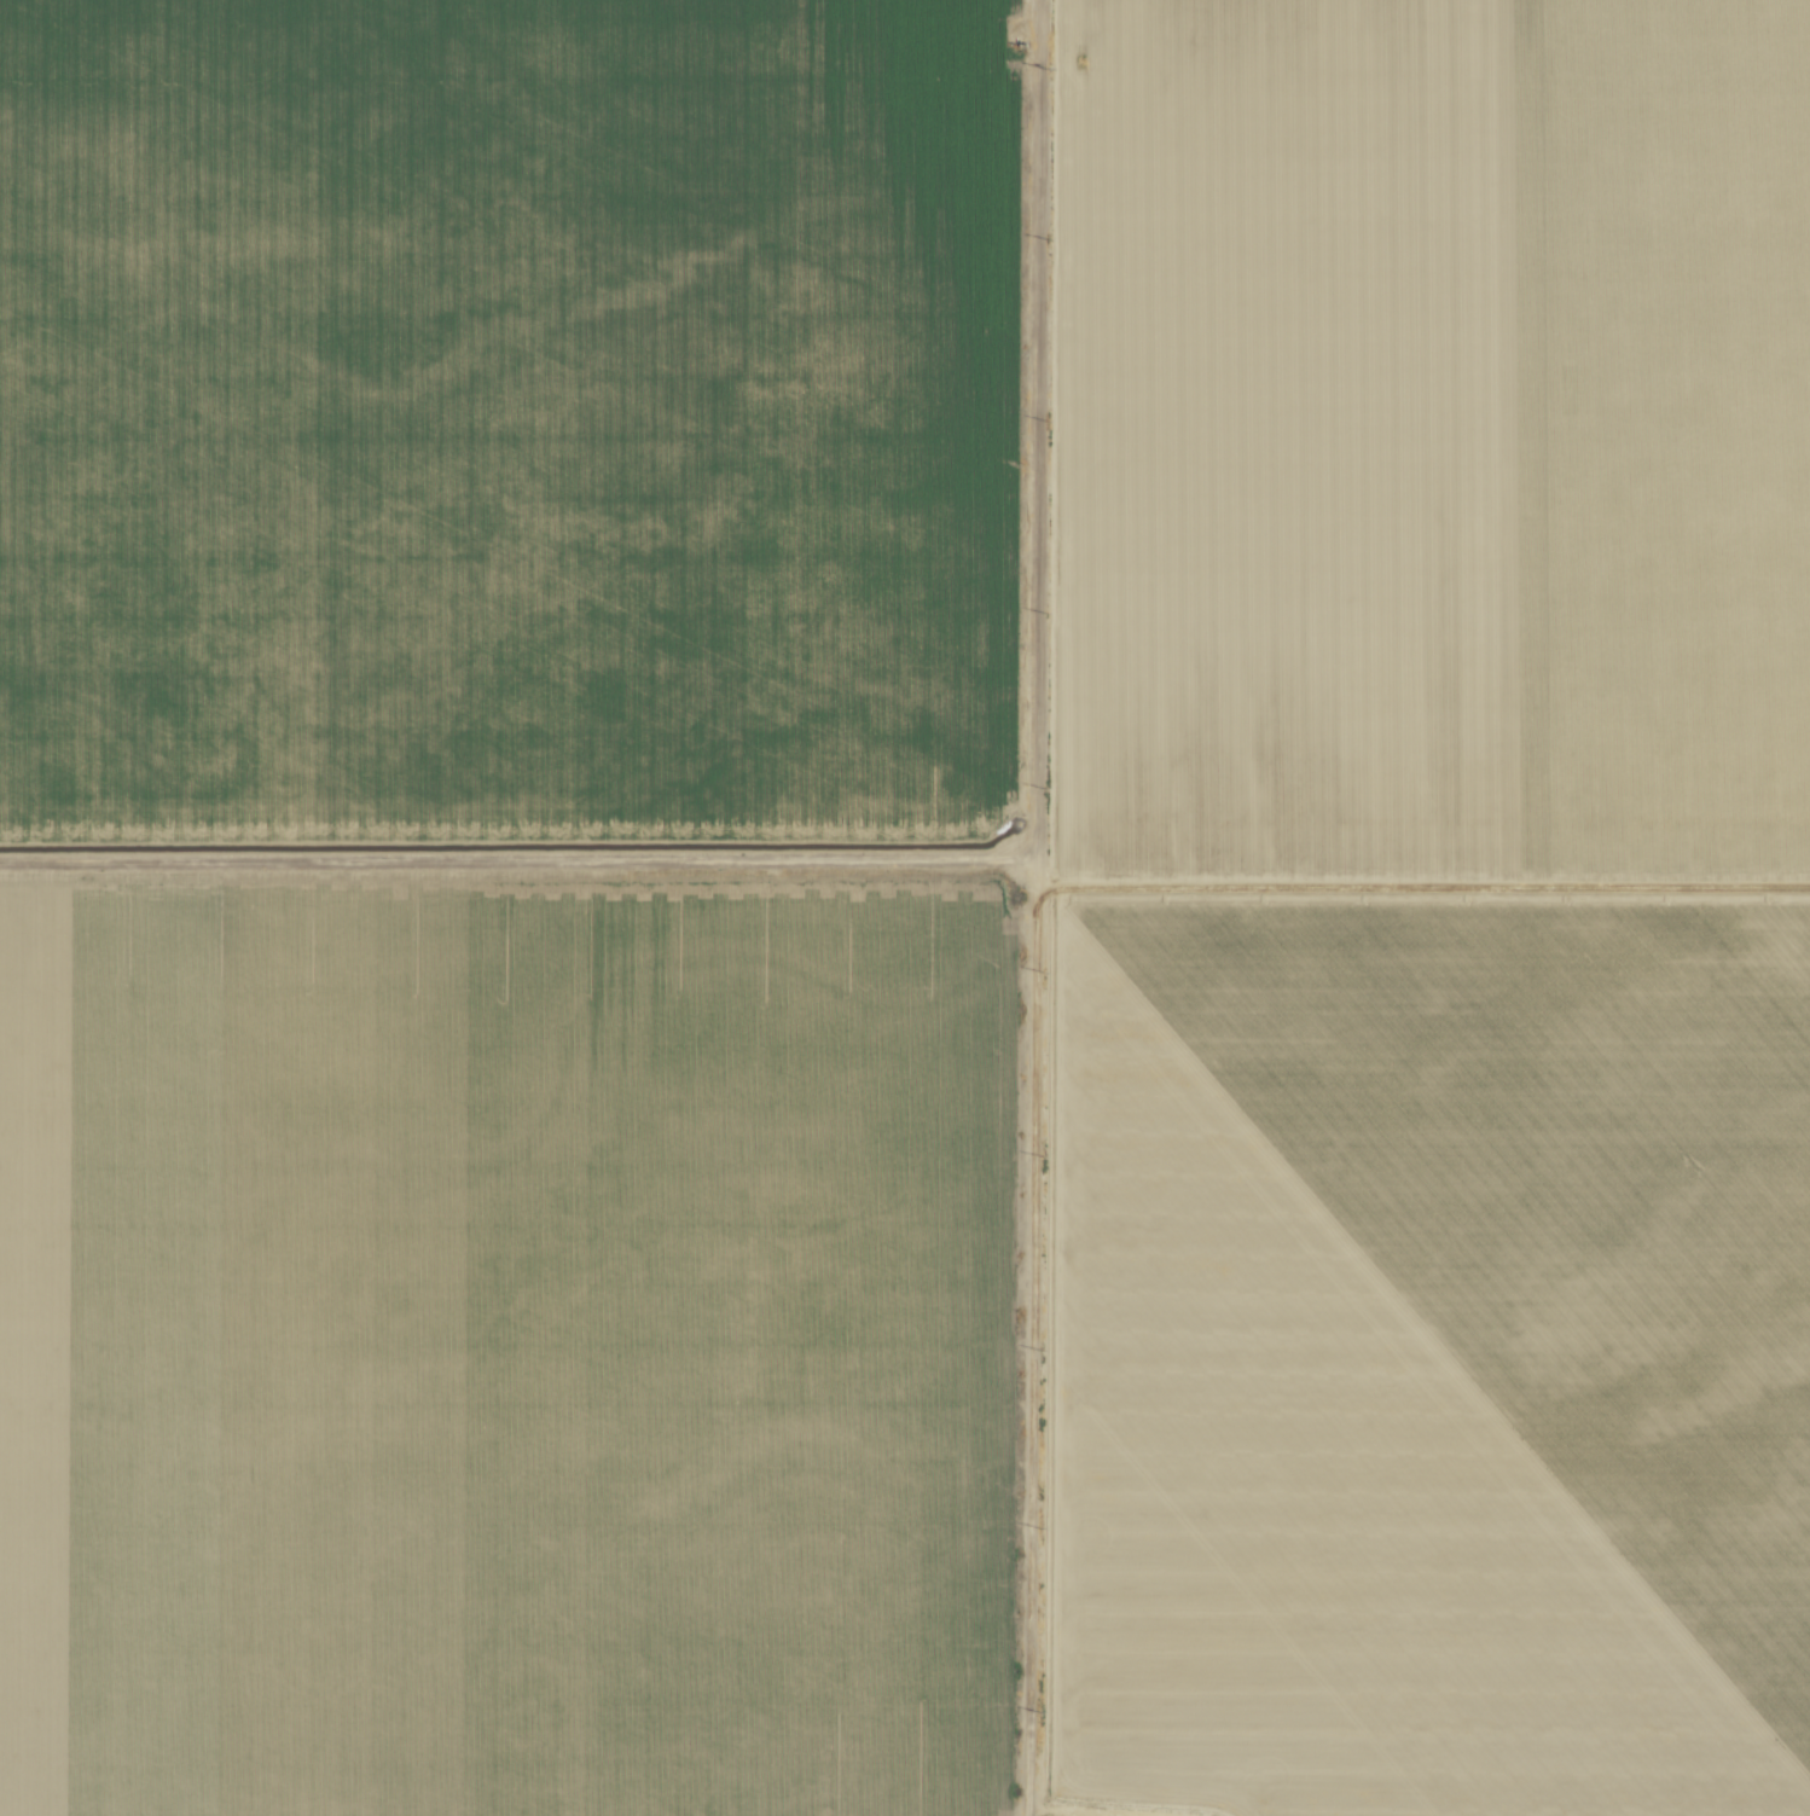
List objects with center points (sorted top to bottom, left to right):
crop: (905, 907)

